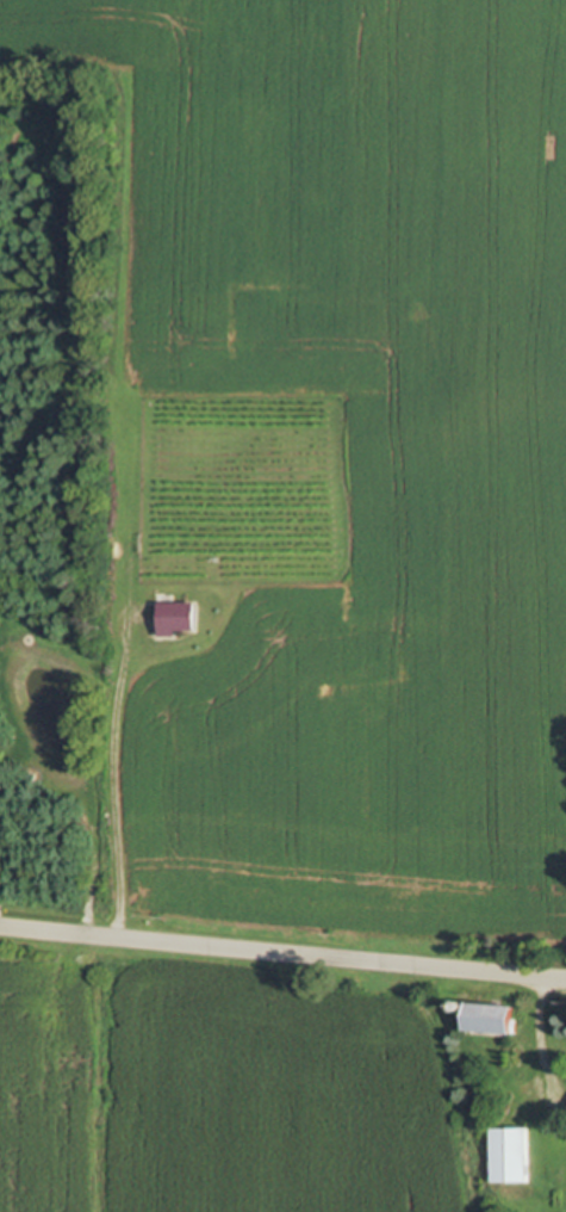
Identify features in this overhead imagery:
building: (176, 618)
road: (99, 774)
road: (282, 958)
building: (492, 1018)
building: (510, 1155)

